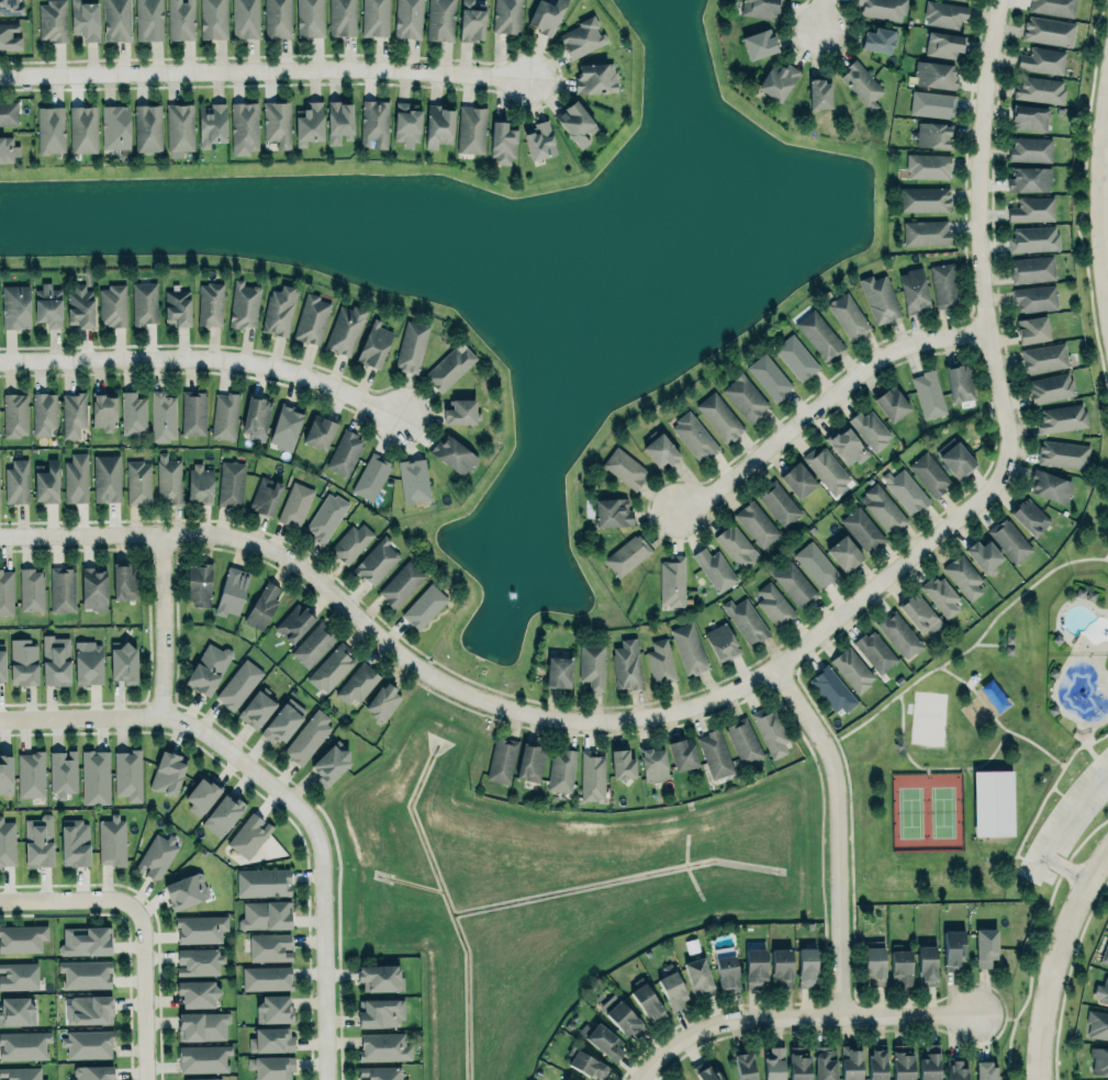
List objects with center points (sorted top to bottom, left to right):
building: (10, 7)
building: (1052, 7)
building: (759, 8)
building: (883, 8)
building: (944, 13)
building: (506, 15)
building: (545, 15)
building: (342, 16)
building: (374, 16)
building: (85, 18)
building: (212, 18)
building: (245, 18)
building: (277, 18)
building: (310, 18)
road: (821, 18)
building: (148, 19)
building: (180, 19)
building: (407, 19)
building: (52, 20)
building: (116, 20)
building: (439, 20)
building: (471, 20)
building: (1048, 31)
building: (9, 35)
building: (581, 35)
building: (877, 40)
building: (758, 43)
building: (943, 43)
building: (1042, 59)
road: (265, 69)
building: (936, 72)
building: (594, 77)
building: (776, 79)
building: (861, 82)
building: (1040, 89)
building: (818, 93)
building: (931, 102)
building: (8, 112)
building: (1029, 115)
building: (338, 119)
building: (275, 121)
building: (371, 121)
building: (575, 121)
building: (211, 122)
building: (310, 122)
building: (405, 123)
building: (114, 125)
building: (242, 125)
building: (437, 125)
building: (147, 126)
building: (51, 127)
building: (179, 127)
building: (81, 128)
building: (471, 128)
building: (933, 132)
building: (539, 138)
building: (502, 143)
building: (7, 148)
building: (1031, 148)
building: (927, 166)
road: (1107, 172)
building: (1029, 177)
building: (924, 198)
building: (1032, 209)
building: (926, 230)
building: (1033, 237)
building: (1032, 268)
building: (942, 285)
building: (914, 289)
building: (878, 296)
building: (1034, 297)
building: (143, 302)
building: (47, 303)
building: (210, 303)
building: (112, 304)
building: (243, 304)
building: (15, 305)
building: (80, 305)
building: (176, 306)
building: (280, 307)
building: (848, 314)
building: (311, 318)
building: (1032, 327)
building: (345, 328)
building: (818, 334)
building: (374, 342)
building: (411, 345)
building: (1044, 356)
road: (205, 357)
building: (796, 357)
building: (449, 365)
building: (769, 375)
building: (959, 381)
building: (1050, 386)
building: (929, 393)
building: (745, 397)
building: (891, 402)
road: (825, 403)
building: (461, 409)
building: (43, 412)
building: (103, 412)
building: (192, 412)
building: (132, 413)
building: (256, 413)
building: (14, 414)
building: (72, 414)
building: (163, 415)
building: (225, 415)
building: (718, 417)
building: (1062, 417)
building: (286, 425)
building: (870, 428)
building: (317, 431)
building: (694, 435)
building: (847, 443)
building: (660, 449)
building: (344, 452)
building: (452, 453)
building: (1062, 453)
building: (955, 459)
building: (624, 466)
building: (826, 468)
building: (929, 472)
building: (371, 475)
building: (76, 476)
building: (105, 477)
building: (169, 479)
building: (413, 479)
building: (15, 480)
building: (796, 480)
building: (46, 482)
building: (137, 482)
building: (199, 483)
building: (231, 483)
building: (1050, 485)
building: (905, 488)
building: (265, 495)
building: (779, 502)
building: (295, 503)
building: (882, 508)
building: (612, 511)
building: (1029, 515)
building: (326, 517)
building: (757, 522)
building: (862, 528)
building: (1007, 538)
building: (350, 541)
building: (736, 545)
building: (842, 549)
building: (627, 553)
building: (983, 554)
building: (376, 560)
building: (816, 563)
building: (714, 567)
building: (964, 575)
building: (124, 581)
building: (671, 581)
building: (198, 583)
building: (400, 583)
building: (794, 583)
building: (93, 587)
building: (31, 588)
building: (61, 588)
building: (231, 590)
building: (5, 592)
fountain: (508, 594)
building: (941, 594)
building: (262, 604)
building: (773, 604)
building: (424, 605)
building: (919, 611)
building: (745, 620)
building: (293, 621)
road: (163, 625)
building: (899, 633)
building: (720, 641)
building: (312, 643)
building: (689, 646)
building: (874, 651)
building: (55, 659)
building: (122, 660)
building: (660, 661)
building: (1, 662)
building: (23, 662)
building: (88, 664)
building: (626, 664)
building: (592, 665)
building: (331, 666)
building: (206, 667)
building: (852, 668)
building: (558, 671)
building: (238, 683)
building: (356, 683)
road: (748, 683)
building: (831, 688)
building: (382, 700)
building: (256, 706)
building: (282, 720)
road: (191, 723)
building: (770, 730)
building: (307, 736)
building: (741, 739)
building: (715, 751)
building: (682, 753)
building: (501, 758)
building: (331, 761)
park: (991, 761)
building: (529, 762)
building: (622, 763)
building: (653, 763)
building: (560, 769)
building: (63, 772)
building: (167, 772)
building: (5, 773)
building: (31, 774)
building: (126, 774)
building: (591, 774)
building: (94, 776)
building: (201, 794)
building: (992, 802)
building: (222, 813)
road: (1057, 829)
road: (838, 833)
building: (249, 834)
building: (112, 840)
building: (37, 841)
building: (7, 842)
building: (75, 842)
building: (156, 855)
building: (264, 880)
building: (186, 890)
road: (68, 897)
building: (265, 914)
building: (200, 927)
building: (22, 937)
building: (85, 940)
building: (269, 946)
building: (953, 946)
building: (985, 946)
building: (1105, 955)
building: (199, 960)
road: (1057, 961)
building: (874, 963)
building: (806, 965)
building: (927, 965)
building: (902, 966)
building: (725, 967)
building: (780, 967)
building: (753, 968)
road: (322, 969)
building: (85, 974)
building: (19, 975)
building: (698, 976)
building: (266, 977)
building: (379, 977)
building: (672, 990)
building: (1101, 990)
road: (143, 992)
building: (197, 992)
building: (647, 1001)
building: (88, 1008)
building: (273, 1008)
building: (18, 1010)
building: (379, 1012)
building: (622, 1016)
road: (805, 1016)
building: (1097, 1024)
building: (201, 1025)
building: (602, 1038)
building: (271, 1039)
building: (88, 1043)
building: (24, 1045)
building: (382, 1046)
building: (202, 1057)
building: (1099, 1059)
building: (877, 1061)
building: (825, 1062)
building: (850, 1062)
building: (902, 1062)
building: (929, 1062)
building: (587, 1064)
building: (773, 1064)
building: (798, 1064)
building: (272, 1066)
building: (745, 1066)
building: (954, 1069)
building: (985, 1069)
building: (705, 1071)
building: (92, 1072)
building: (381, 1072)
building: (20, 1073)
road: (643, 1073)
building: (203, 1078)
building: (564, 1079)

